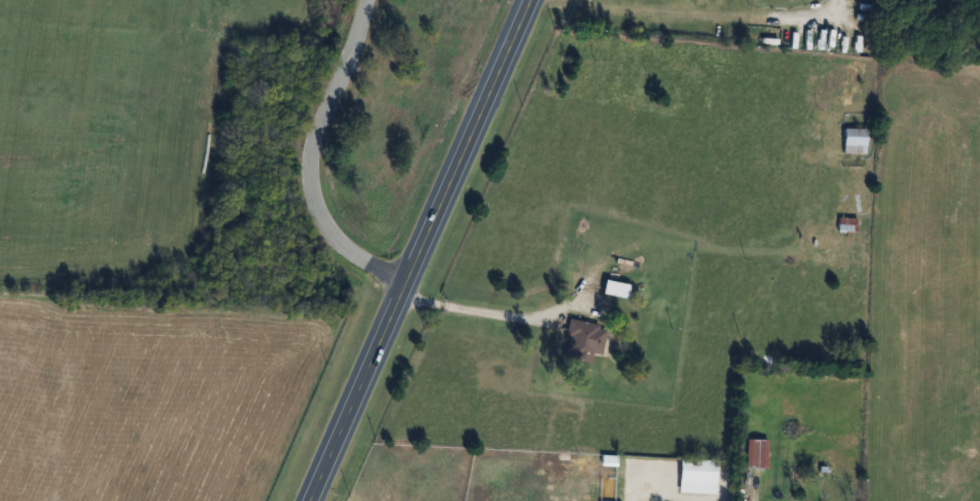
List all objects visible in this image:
road: (706, 15)
building: (854, 140)
road: (305, 161)
building: (846, 225)
road: (418, 250)
building: (609, 297)
road: (479, 314)
building: (585, 338)
building: (756, 454)
building: (697, 476)

